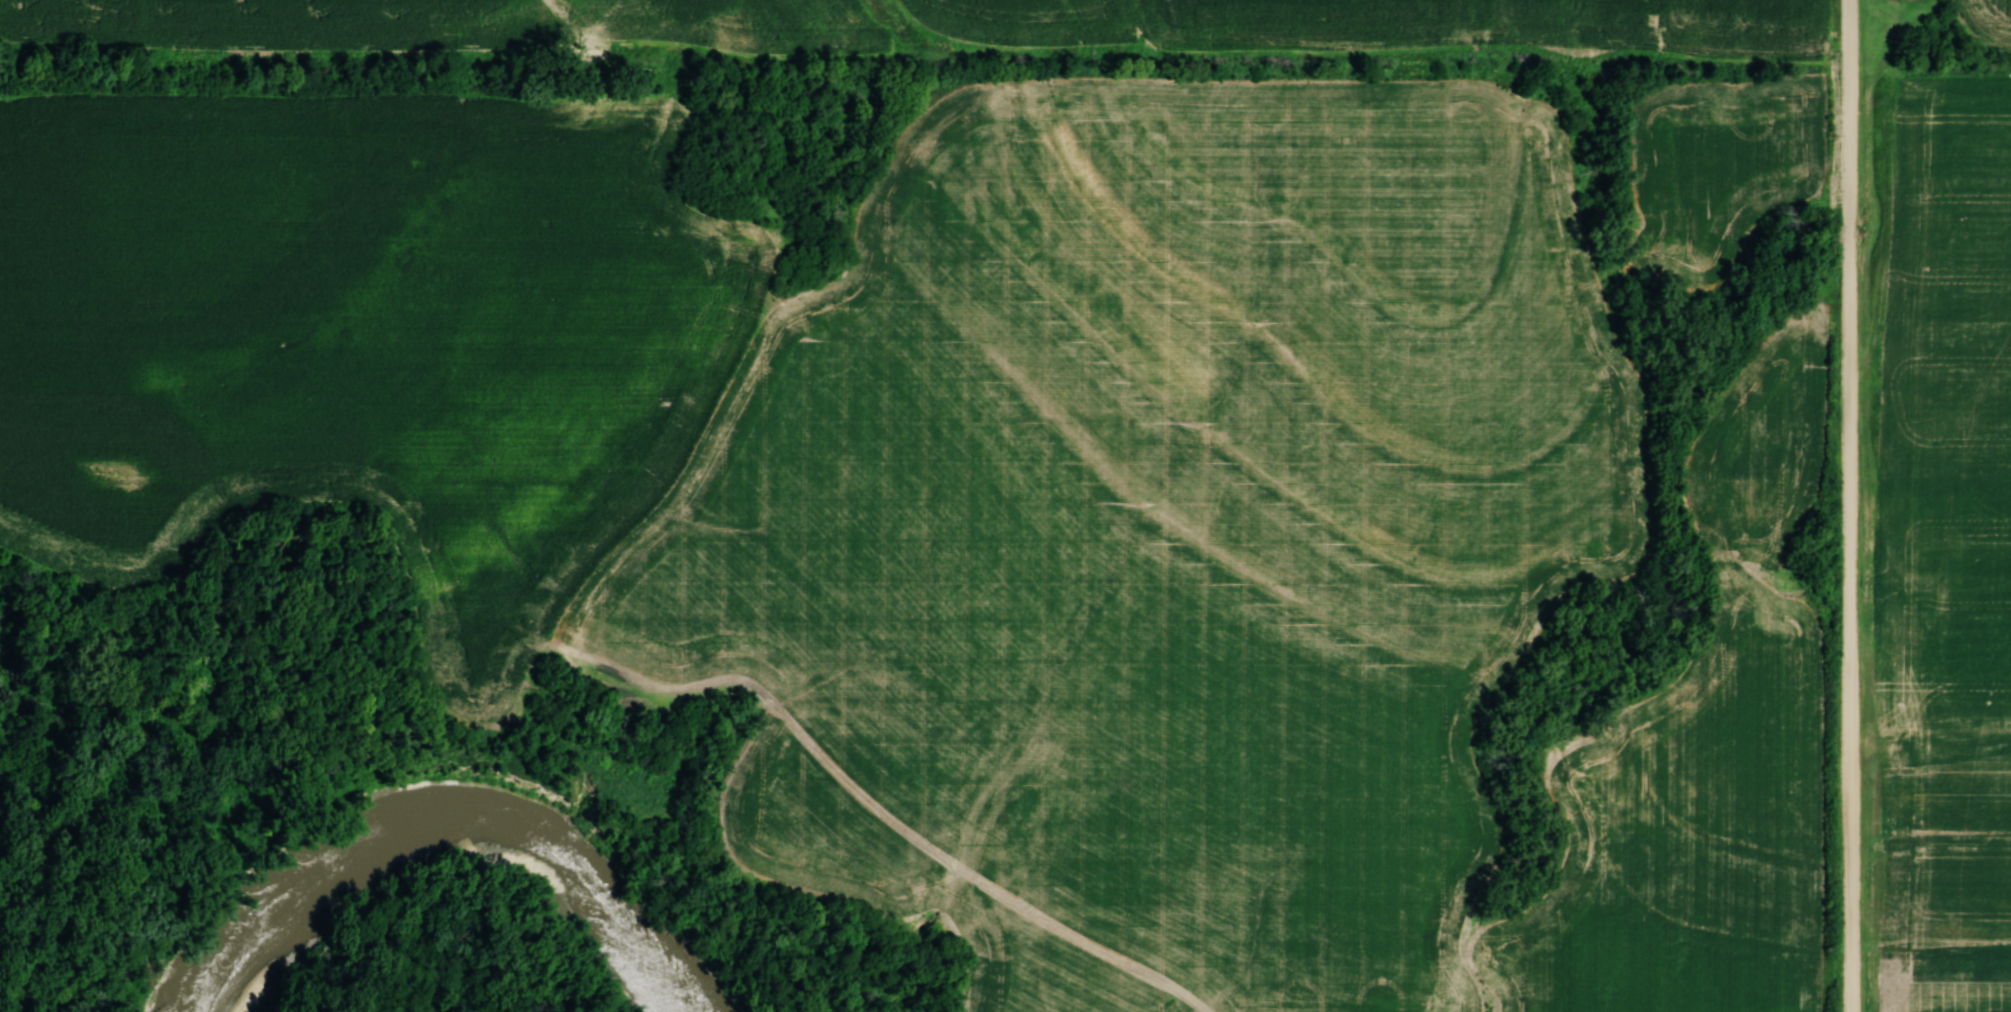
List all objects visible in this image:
road: (1853, 506)
river: (458, 831)

